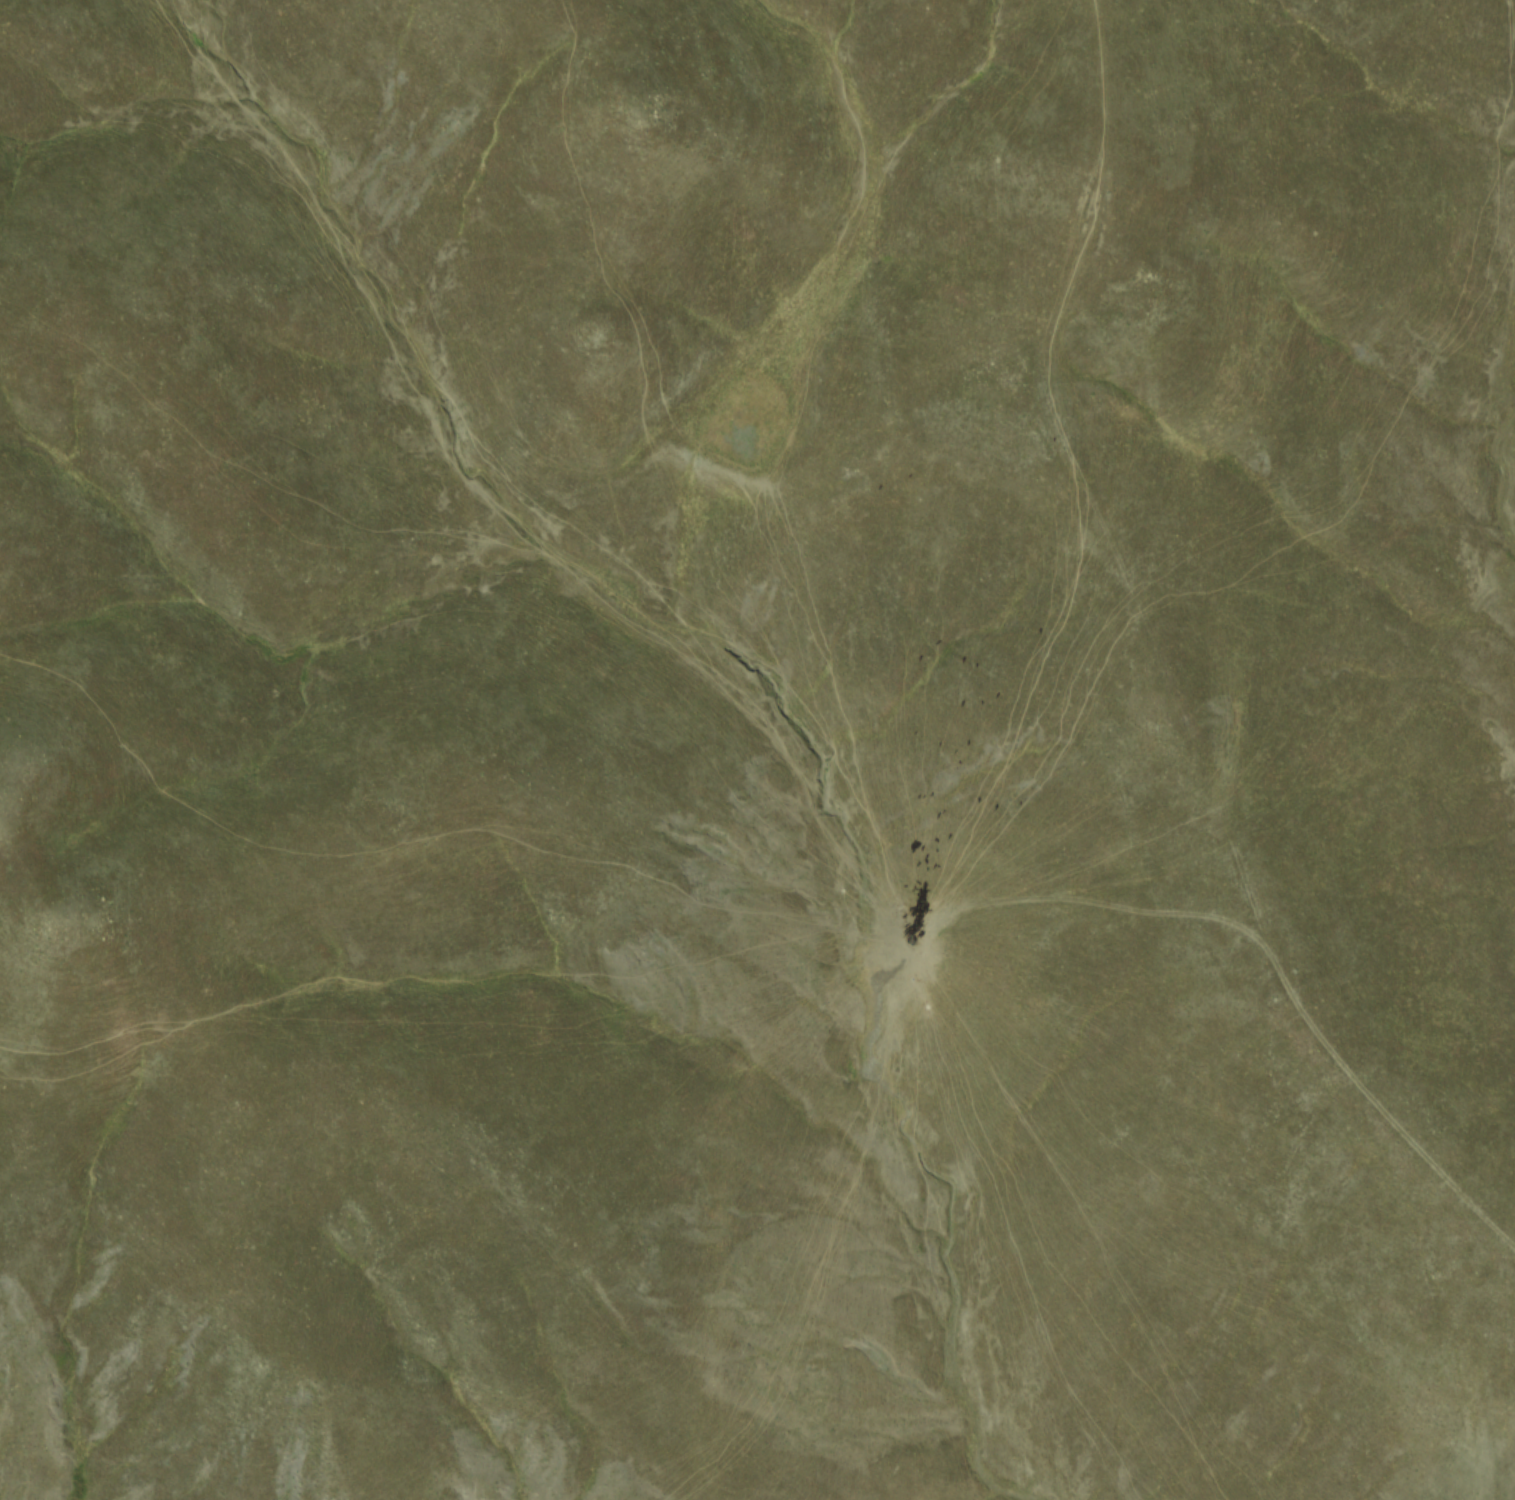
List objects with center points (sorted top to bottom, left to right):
road: (1168, 658)

